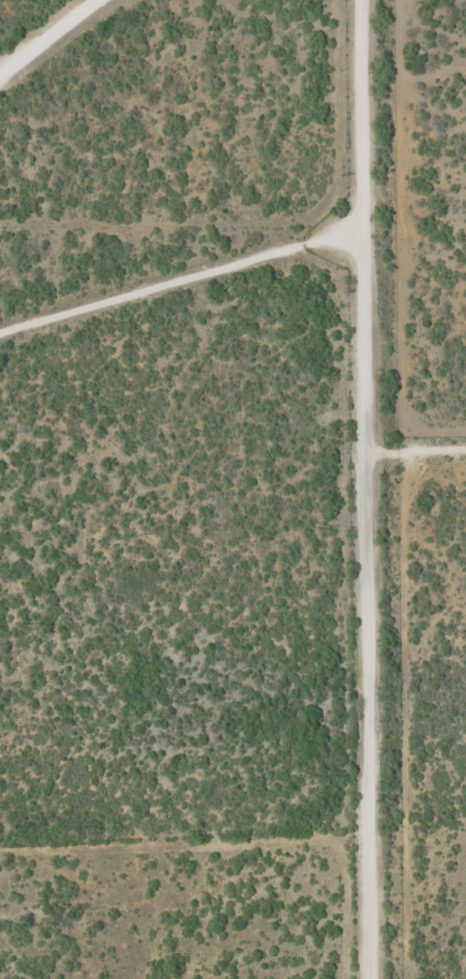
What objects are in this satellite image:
road: (189, 275)
road: (367, 489)

